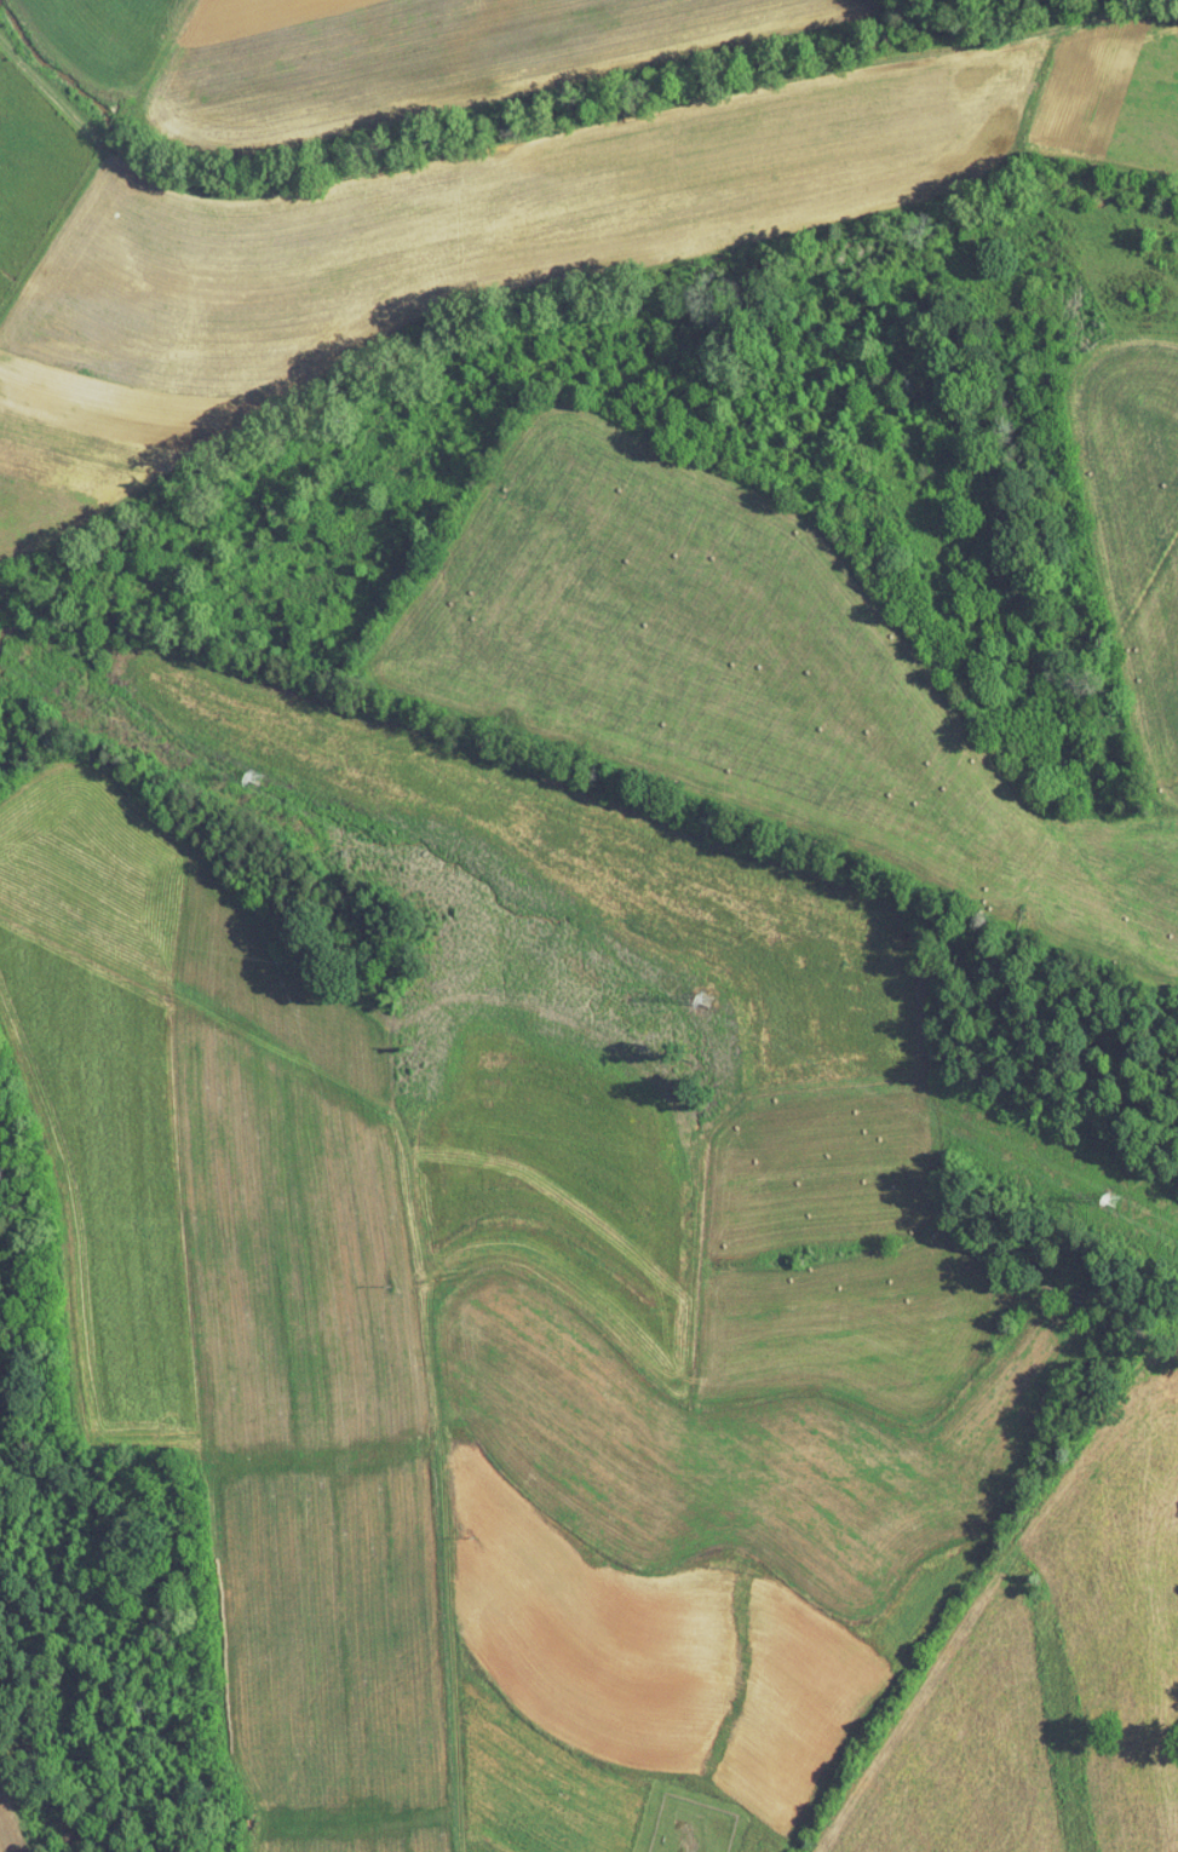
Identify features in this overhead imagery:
power tower: (248, 775)
power tower: (700, 1001)
power tower: (1111, 1200)

